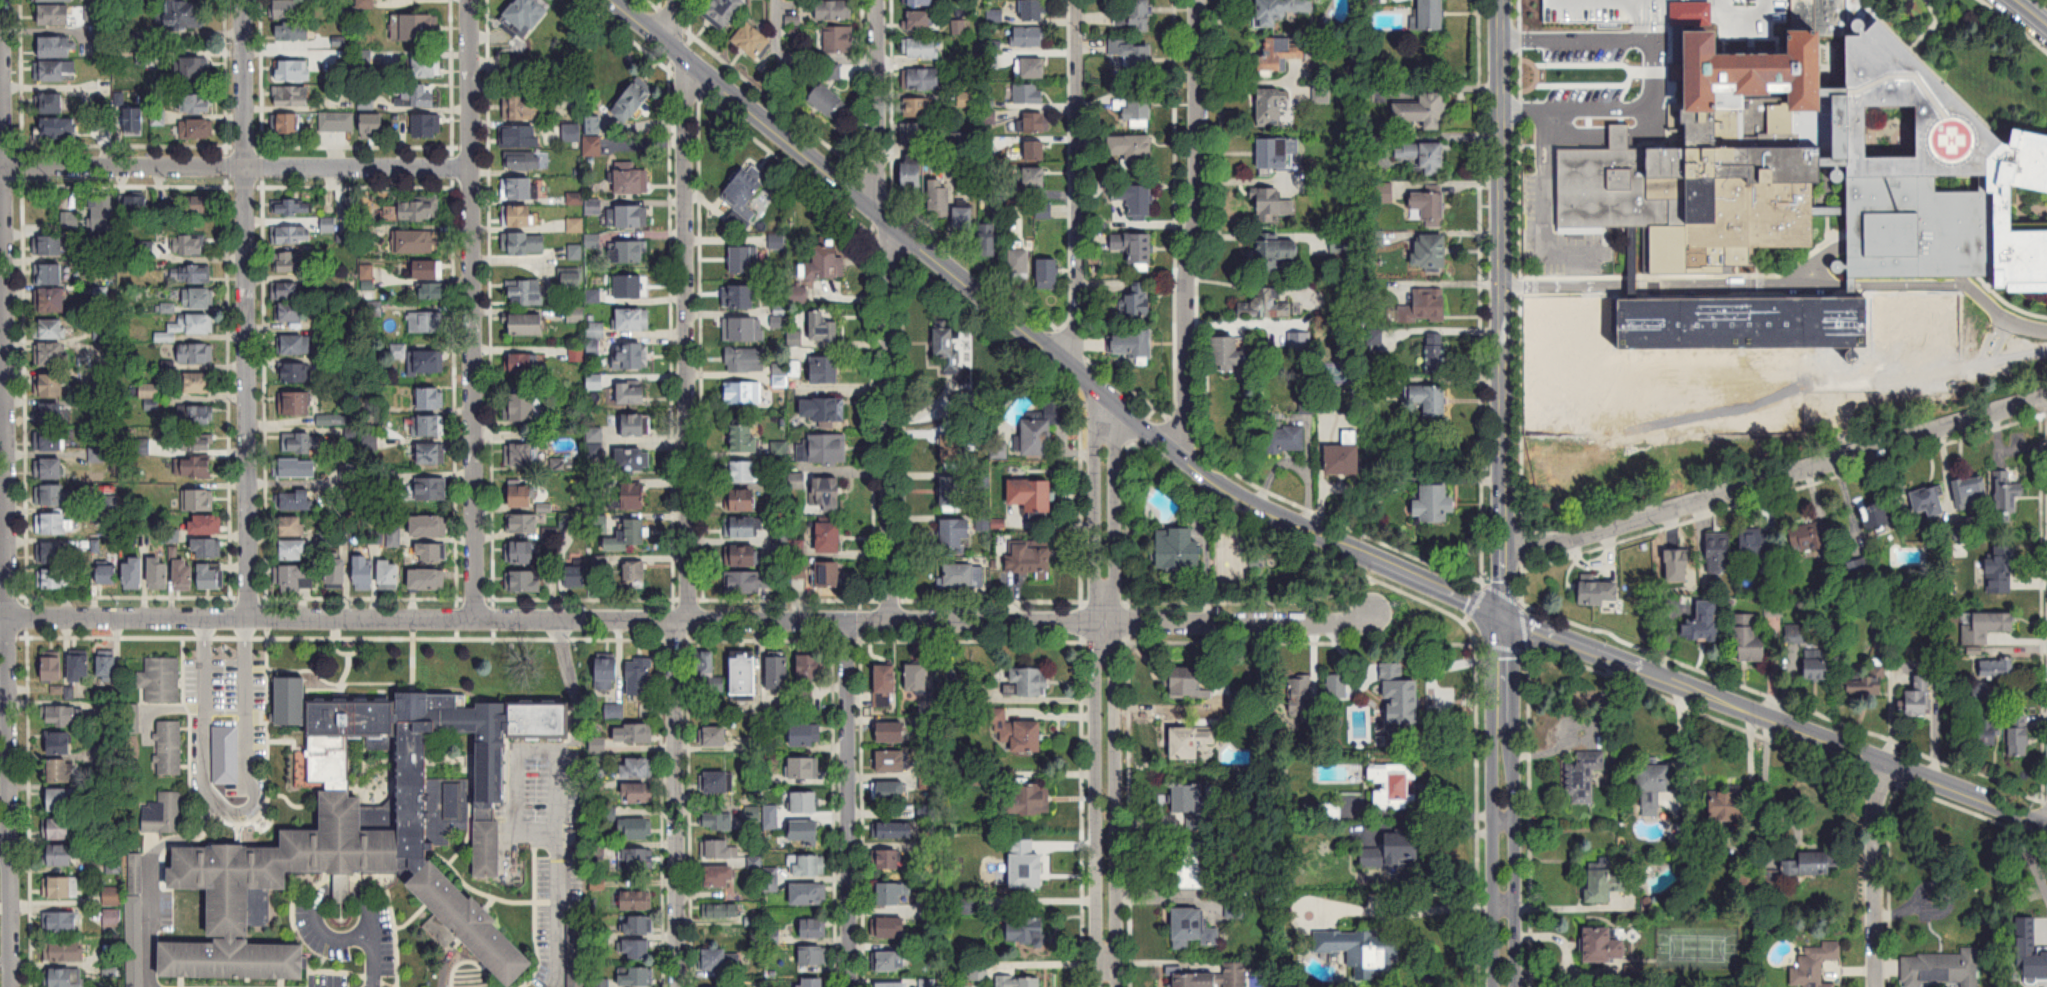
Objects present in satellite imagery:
building: (54, 1)
building: (920, 2)
road: (2044, 2)
building: (286, 9)
building: (834, 10)
building: (1034, 10)
building: (1279, 10)
building: (723, 11)
road: (2030, 11)
building: (185, 15)
building: (1433, 15)
building: (55, 16)
building: (527, 16)
building: (1134, 16)
building: (921, 20)
road: (978, 20)
road: (2015, 24)
building: (419, 29)
building: (293, 32)
road: (1573, 36)
building: (1030, 37)
building: (752, 40)
building: (839, 40)
building: (57, 48)
building: (922, 48)
building: (1278, 55)
building: (1135, 56)
road: (799, 57)
building: (146, 58)
building: (194, 68)
building: (427, 68)
building: (1030, 69)
building: (293, 71)
building: (57, 72)
building: (927, 80)
road: (1, 82)
road: (244, 84)
building: (1027, 95)
building: (292, 97)
building: (416, 98)
building: (633, 103)
building: (830, 103)
building: (51, 104)
building: (197, 104)
building: (519, 107)
building: (920, 108)
building: (1136, 108)
building: (1271, 110)
building: (1423, 112)
road: (1611, 112)
building: (135, 122)
building: (337, 122)
building: (1038, 123)
building: (287, 124)
building: (594, 126)
building: (376, 127)
building: (427, 127)
building: (57, 129)
building: (195, 129)
building: (571, 133)
building: (926, 133)
building: (520, 137)
helipad: (1941, 143)
helipad: (1950, 145)
building: (593, 146)
building: (1036, 151)
building: (1134, 151)
building: (1408, 152)
building: (1275, 154)
building: (1434, 160)
building: (523, 161)
road: (122, 166)
road: (359, 168)
building: (914, 174)
building: (631, 178)
building: (1036, 178)
building: (518, 187)
road: (1076, 187)
building: (746, 193)
building: (1384, 194)
building: (940, 198)
building: (1135, 198)
building: (194, 203)
building: (137, 204)
building: (292, 206)
building: (1273, 206)
building: (420, 208)
building: (1431, 209)
building: (1043, 211)
building: (103, 213)
building: (520, 215)
building: (633, 215)
building: (964, 219)
building: (69, 220)
building: (329, 224)
building: (1821, 224)
road: (1194, 230)
building: (292, 233)
building: (418, 240)
building: (989, 240)
building: (524, 242)
building: (188, 244)
building: (48, 245)
road: (1875, 246)
building: (1136, 249)
building: (629, 251)
building: (1432, 253)
building: (1276, 255)
building: (745, 259)
building: (287, 261)
building: (825, 262)
building: (1021, 264)
building: (429, 268)
building: (49, 273)
building: (193, 274)
building: (1048, 274)
road: (1924, 284)
building: (630, 285)
road: (1643, 285)
building: (433, 290)
building: (527, 292)
building: (739, 295)
building: (197, 298)
building: (52, 300)
building: (289, 300)
building: (1138, 304)
building: (1262, 305)
building: (1425, 307)
road: (473, 310)
road: (687, 310)
road: (886, 310)
building: (633, 319)
building: (426, 321)
building: (527, 324)
building: (824, 326)
building: (187, 327)
building: (744, 328)
building: (53, 329)
building: (595, 329)
building: (945, 340)
building: (296, 344)
building: (1132, 346)
building: (1435, 351)
building: (51, 353)
building: (196, 353)
building: (1229, 355)
building: (631, 356)
building: (746, 358)
building: (426, 360)
building: (522, 361)
building: (825, 369)
building: (296, 372)
building: (198, 382)
building: (50, 384)
road: (3, 385)
building: (743, 391)
building: (633, 392)
road: (248, 393)
building: (431, 397)
road: (1109, 399)
building: (1431, 400)
building: (295, 402)
building: (524, 406)
building: (825, 410)
building: (49, 413)
building: (198, 415)
building: (429, 424)
building: (636, 424)
building: (1045, 427)
building: (745, 437)
building: (1285, 437)
building: (49, 439)
building: (298, 441)
building: (195, 442)
building: (823, 448)
building: (955, 451)
building: (430, 452)
building: (521, 452)
building: (97, 454)
building: (1346, 455)
building: (631, 458)
building: (193, 466)
building: (50, 467)
building: (294, 467)
building: (742, 470)
road: (1776, 478)
building: (431, 487)
building: (1972, 488)
building: (825, 492)
building: (953, 492)
building: (1033, 493)
road: (1502, 493)
building: (54, 494)
building: (522, 494)
building: (633, 494)
building: (199, 499)
building: (741, 499)
building: (1929, 499)
building: (296, 500)
building: (1435, 505)
building: (1879, 514)
building: (567, 520)
building: (523, 522)
building: (51, 523)
building: (206, 524)
building: (429, 525)
building: (293, 526)
building: (742, 526)
building: (142, 527)
building: (956, 533)
building: (628, 534)
building: (394, 537)
building: (830, 537)
building: (1812, 539)
building: (1757, 544)
building: (207, 548)
building: (1179, 548)
building: (294, 549)
building: (432, 551)
building: (521, 551)
building: (52, 552)
building: (1720, 552)
building: (742, 555)
building: (1033, 562)
building: (1677, 565)
building: (1861, 566)
building: (364, 572)
building: (159, 573)
building: (337, 573)
building: (830, 573)
building: (108, 574)
building: (134, 574)
building: (389, 574)
building: (636, 574)
road: (6, 575)
building: (184, 575)
building: (965, 575)
building: (210, 576)
building: (55, 578)
building: (294, 578)
building: (428, 578)
building: (524, 580)
building: (576, 580)
building: (749, 582)
building: (1601, 591)
traffic signals: (1503, 615)
road: (688, 620)
building: (1706, 622)
building: (1987, 625)
building: (1796, 634)
building: (1749, 640)
building: (705, 663)
building: (107, 666)
building: (80, 667)
building: (1996, 667)
building: (53, 668)
building: (1819, 669)
building: (810, 671)
building: (778, 672)
building: (608, 673)
building: (746, 674)
building: (640, 676)
building: (918, 677)
building: (160, 680)
building: (1029, 682)
building: (1872, 682)
building: (886, 685)
building: (1193, 685)
building: (1338, 686)
building: (1980, 689)
road: (1106, 690)
road: (576, 694)
building: (1302, 697)
building: (1919, 697)
building: (292, 700)
building: (1239, 700)
building: (1404, 701)
building: (614, 711)
building: (63, 716)
road: (4, 725)
building: (1990, 728)
building: (893, 731)
building: (1017, 731)
building: (634, 732)
building: (807, 734)
building: (716, 735)
building: (2020, 740)
building: (1192, 741)
building: (60, 743)
road: (1680, 744)
building: (168, 747)
road: (1862, 756)
building: (893, 761)
building: (638, 767)
building: (804, 767)
building: (59, 770)
building: (929, 774)
road: (875, 775)
building: (1584, 775)
building: (970, 778)
building: (718, 781)
road: (514, 784)
building: (1394, 785)
building: (1654, 787)
building: (890, 790)
building: (638, 792)
building: (1027, 798)
building: (1190, 798)
building: (62, 799)
building: (805, 801)
road: (677, 803)
road: (849, 803)
road: (236, 808)
building: (1728, 808)
building: (1330, 811)
building: (164, 813)
road: (1442, 814)
building: (719, 820)
building: (58, 828)
building: (638, 828)
building: (893, 829)
building: (366, 832)
building: (805, 832)
building: (969, 845)
road: (4, 847)
building: (489, 848)
building: (720, 849)
building: (59, 854)
building: (1395, 855)
building: (633, 857)
building: (886, 859)
building: (1028, 863)
building: (1812, 863)
building: (807, 864)
building: (1196, 864)
road: (149, 875)
road: (1873, 875)
building: (720, 876)
road: (559, 878)
building: (1605, 884)
building: (58, 887)
building: (808, 893)
building: (893, 893)
building: (113, 895)
building: (637, 900)
road: (320, 902)
building: (721, 910)
road: (1411, 912)
building: (113, 918)
building: (60, 922)
building: (639, 925)
building: (888, 927)
building: (813, 928)
building: (1193, 928)
building: (1028, 930)
building: (1605, 945)
building: (637, 950)
building: (1362, 951)
building: (63, 952)
building: (814, 956)
road: (378, 959)
building: (716, 959)
road: (5, 961)
building: (887, 961)
building: (1815, 964)
building: (1941, 968)
building: (979, 970)
building: (64, 977)
building: (637, 978)
building: (1215, 978)
building: (1017, 979)
building: (815, 982)
building: (928, 983)
building: (891, 984)

